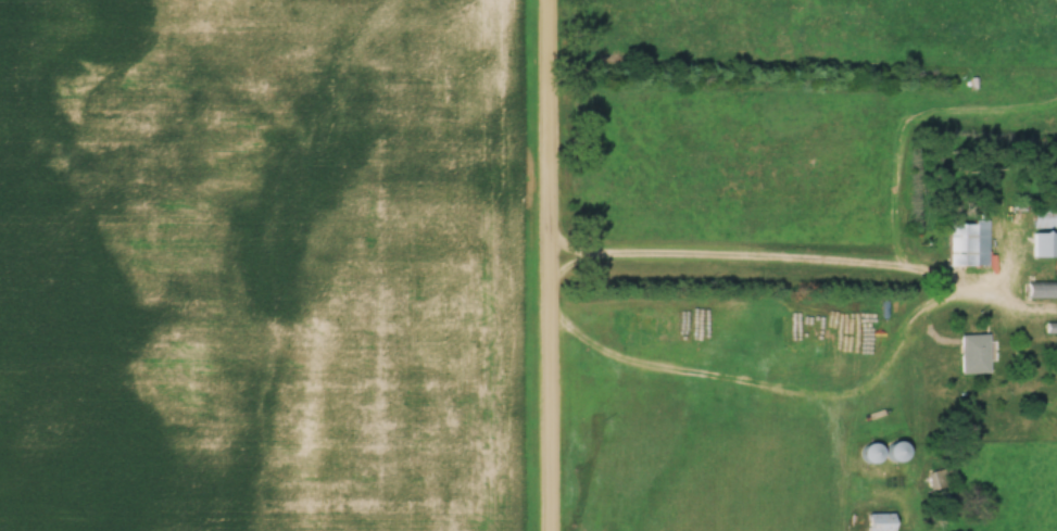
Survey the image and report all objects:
building: (1042, 218)
building: (964, 242)
building: (1041, 243)
road: (549, 265)
road: (744, 265)
building: (1033, 288)
building: (969, 353)
building: (890, 451)
building: (873, 521)

